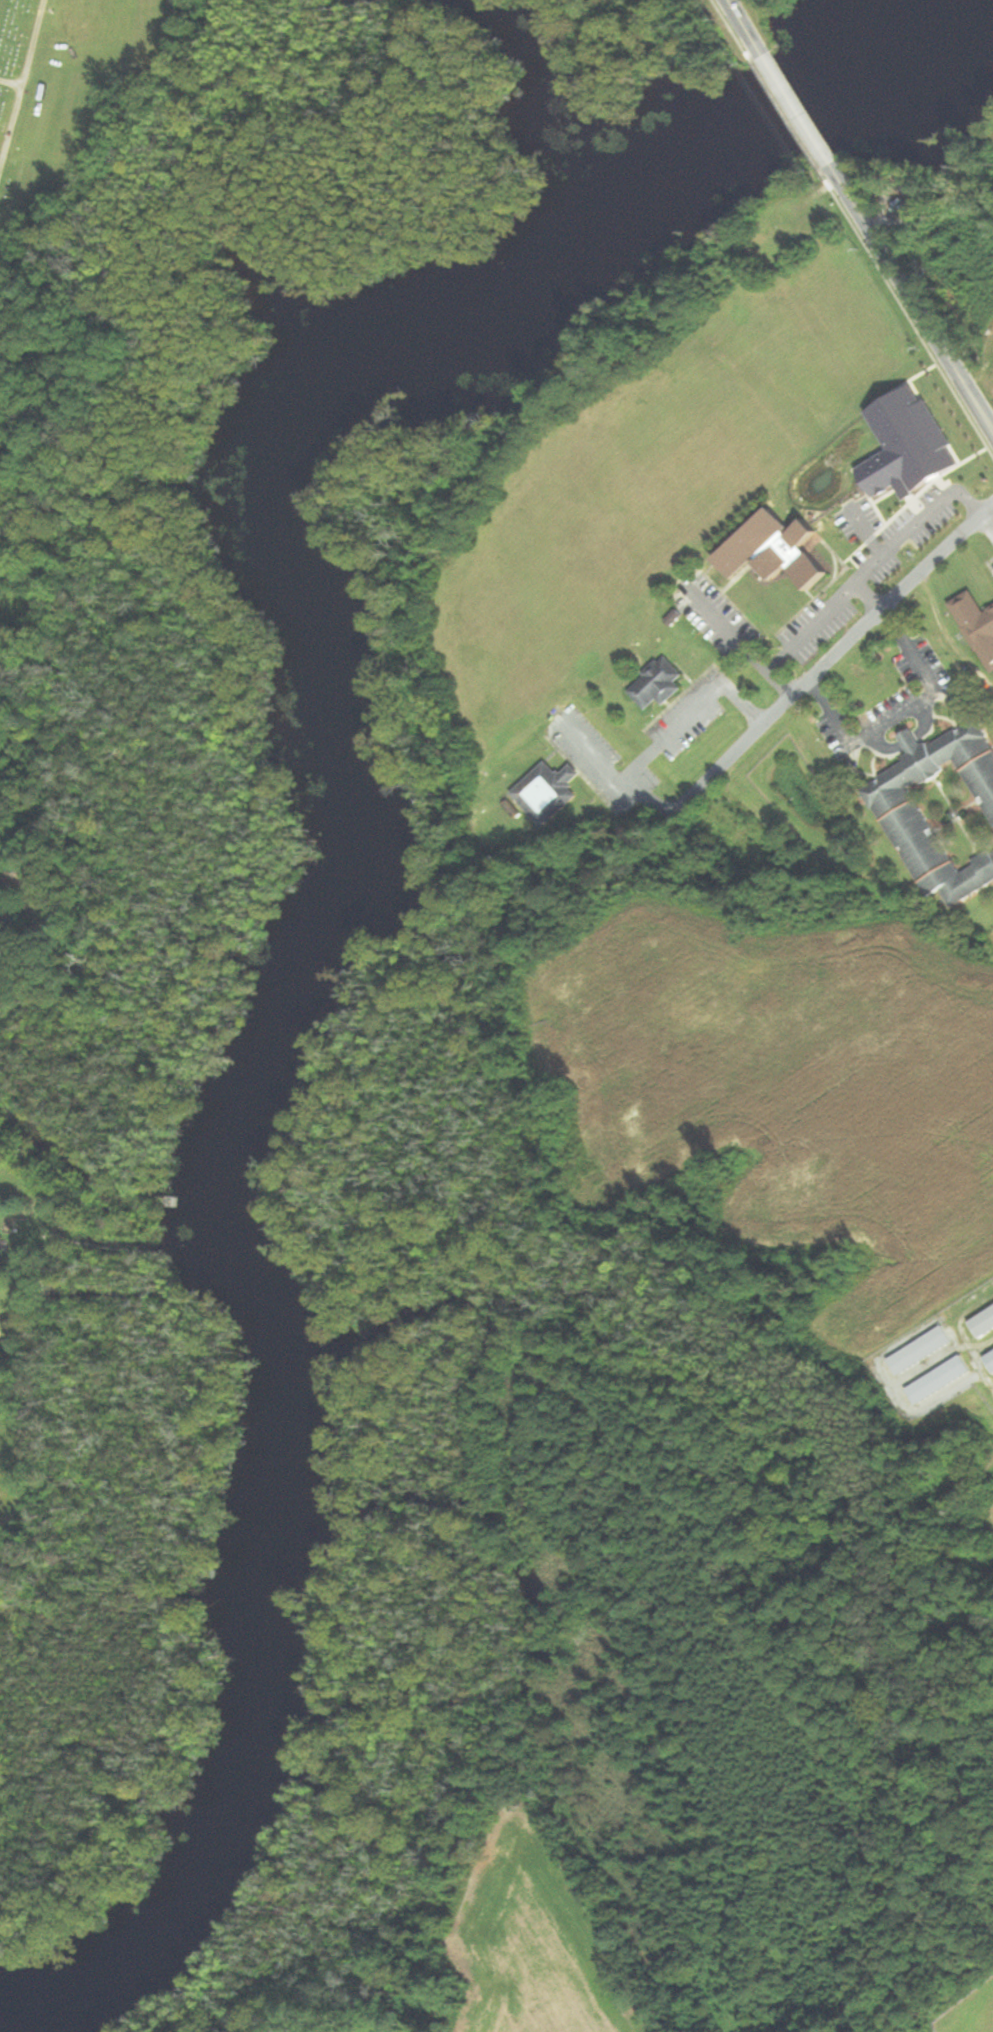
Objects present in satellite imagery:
road: (741, 21)
road: (793, 103)
park: (35, 107)
road: (911, 298)
road: (986, 525)
building: (777, 552)
building: (978, 626)
road: (833, 652)
building: (659, 685)
road: (905, 715)
road: (674, 735)
building: (549, 792)
building: (943, 811)
building: (983, 1321)
building: (922, 1351)
building: (990, 1358)
building: (942, 1380)

